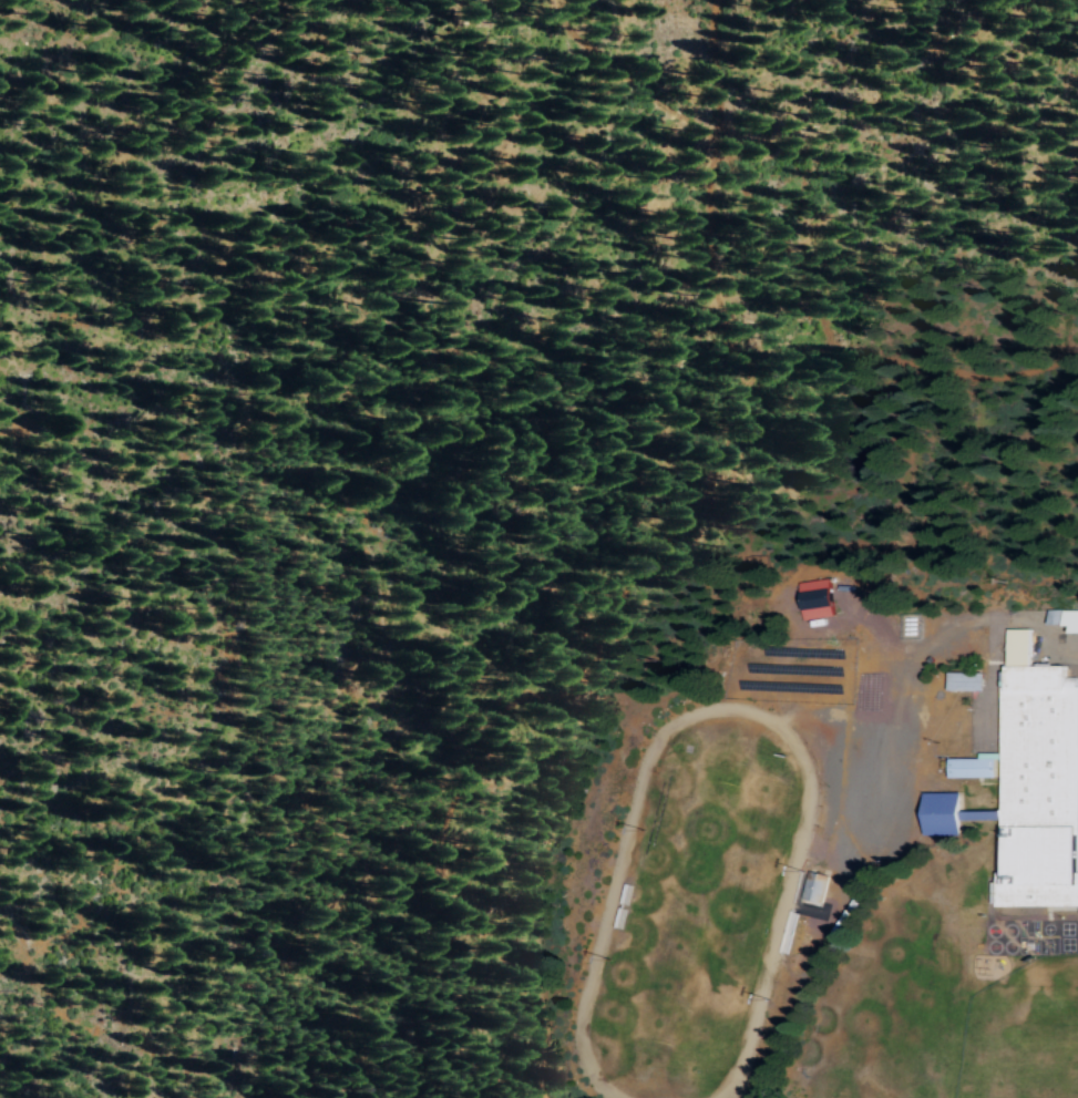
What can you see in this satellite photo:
building: (817, 598)
building: (1064, 618)
building: (965, 680)
building: (1033, 783)
building: (943, 813)
building: (815, 886)

